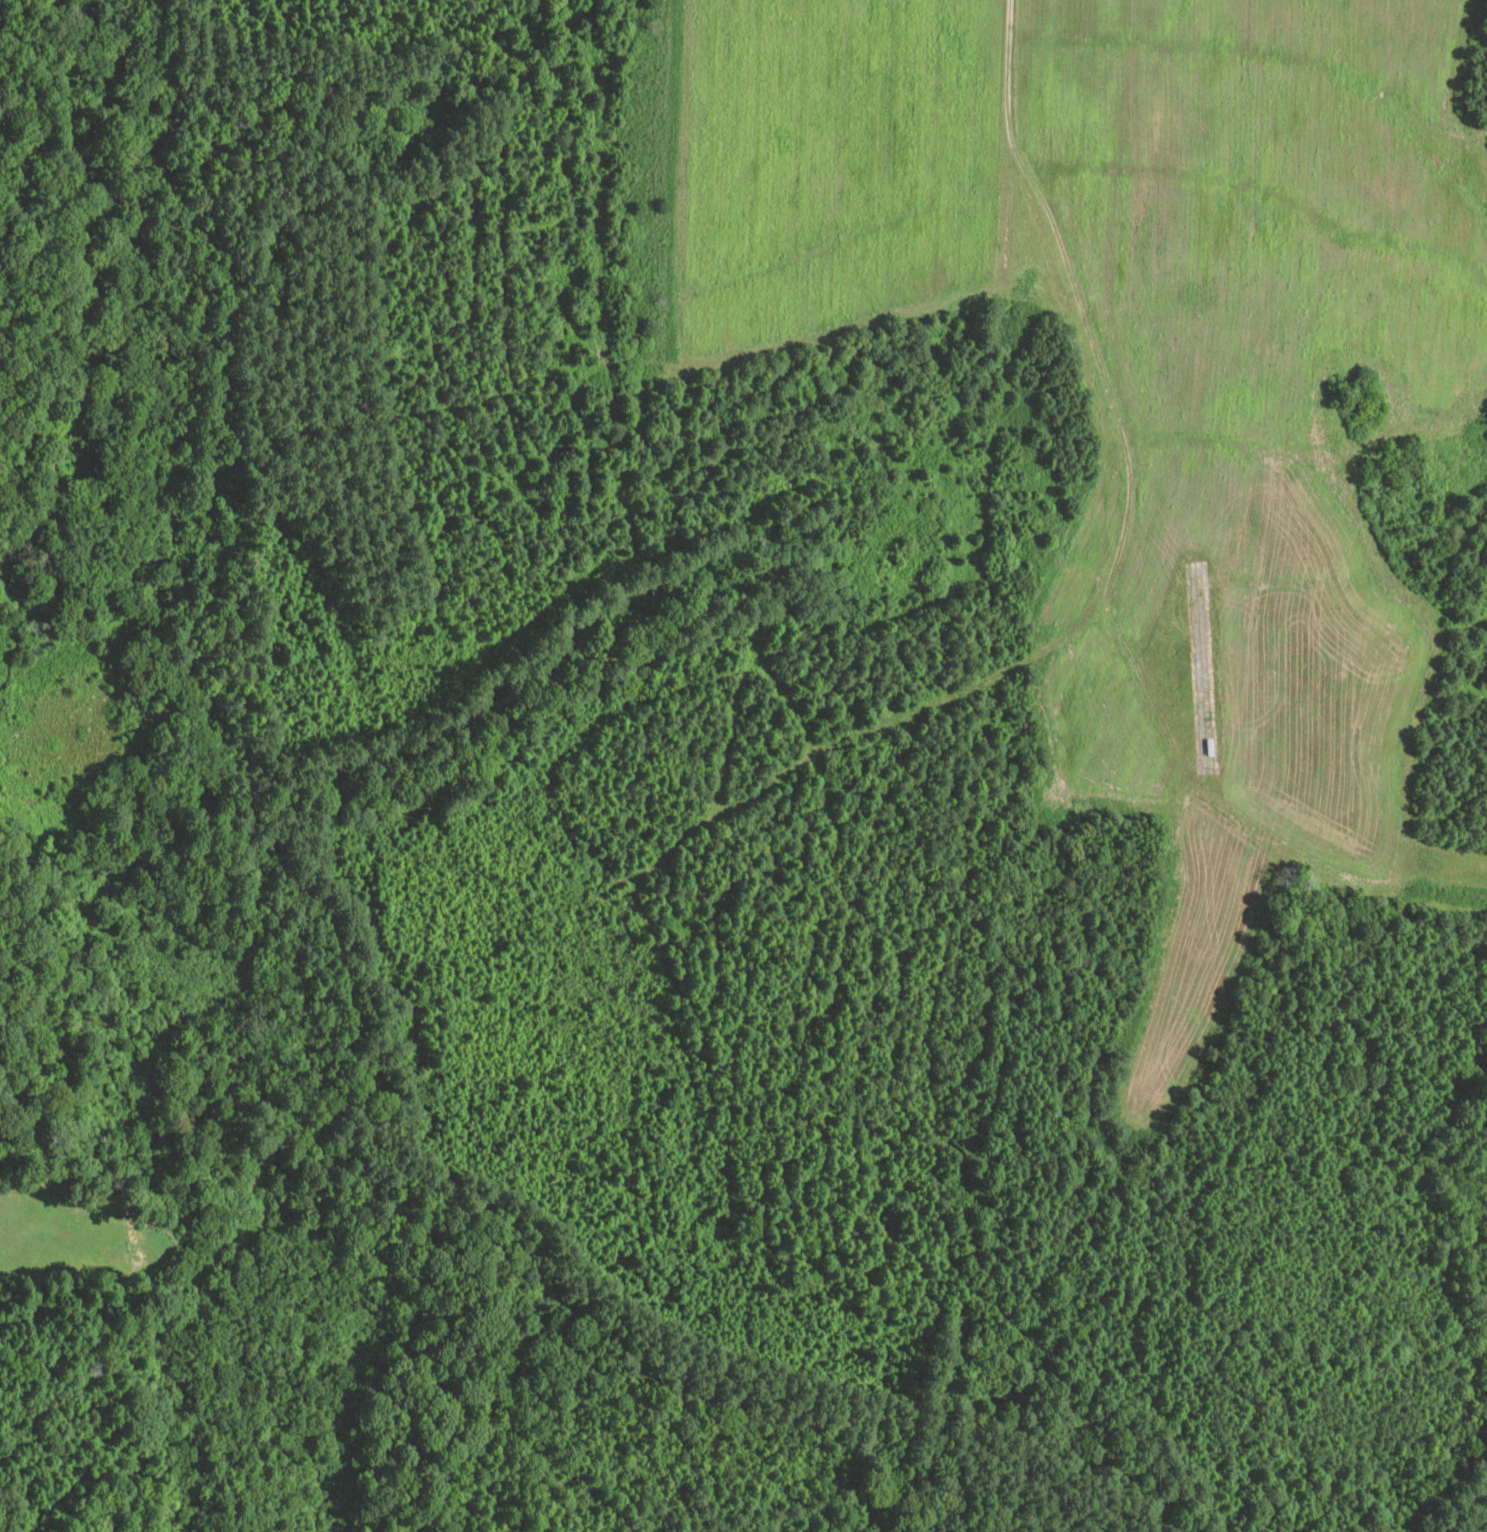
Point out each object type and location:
road: (1006, 375)

